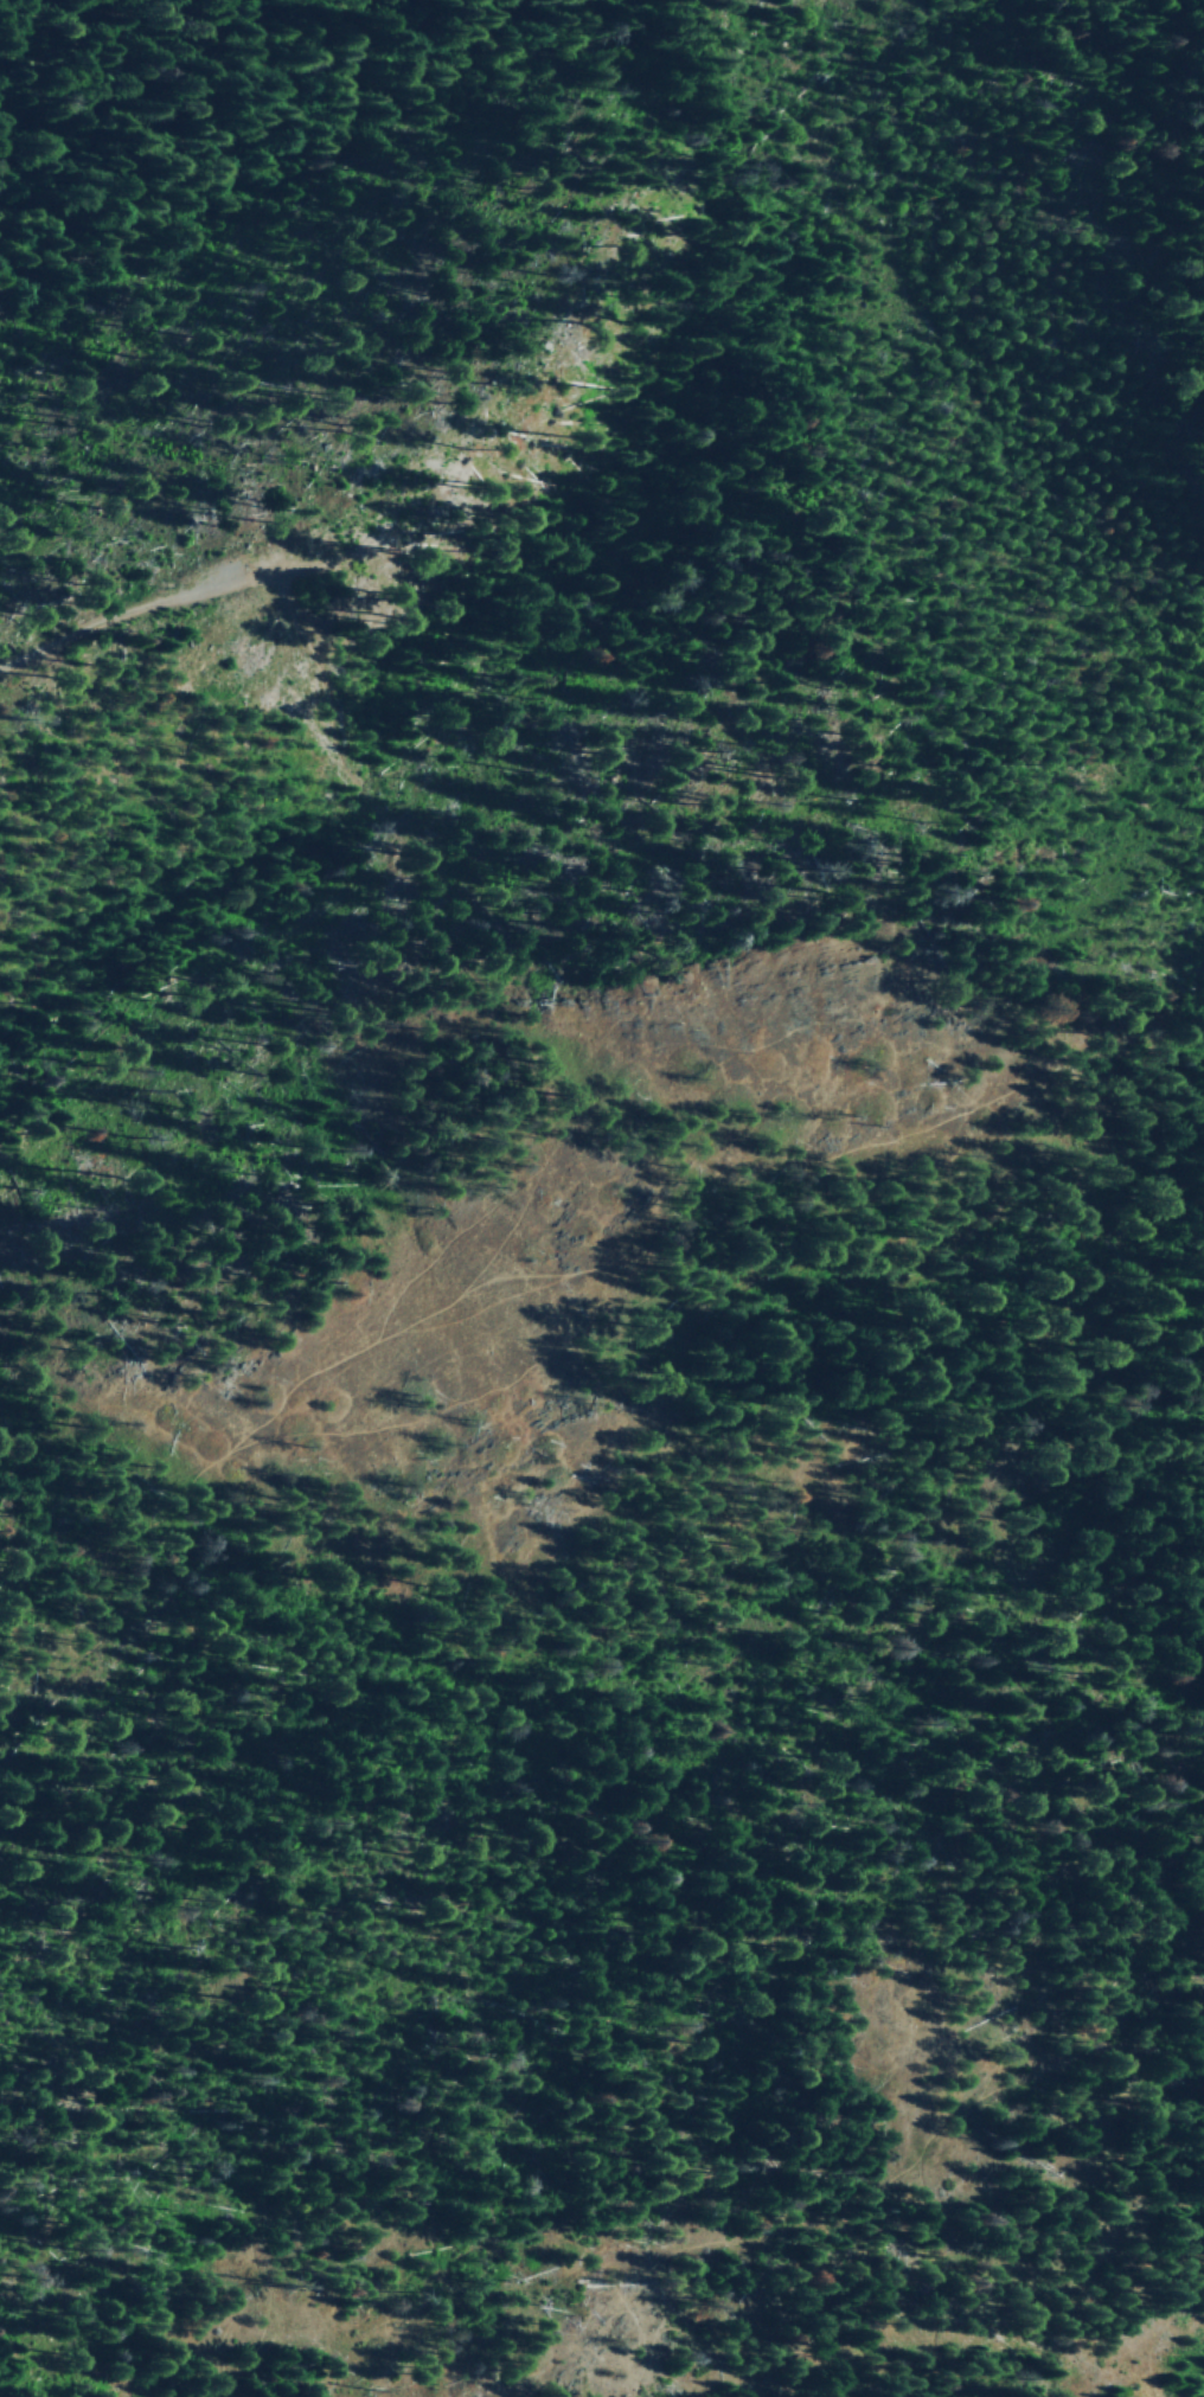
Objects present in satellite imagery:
road: (119, 617)

